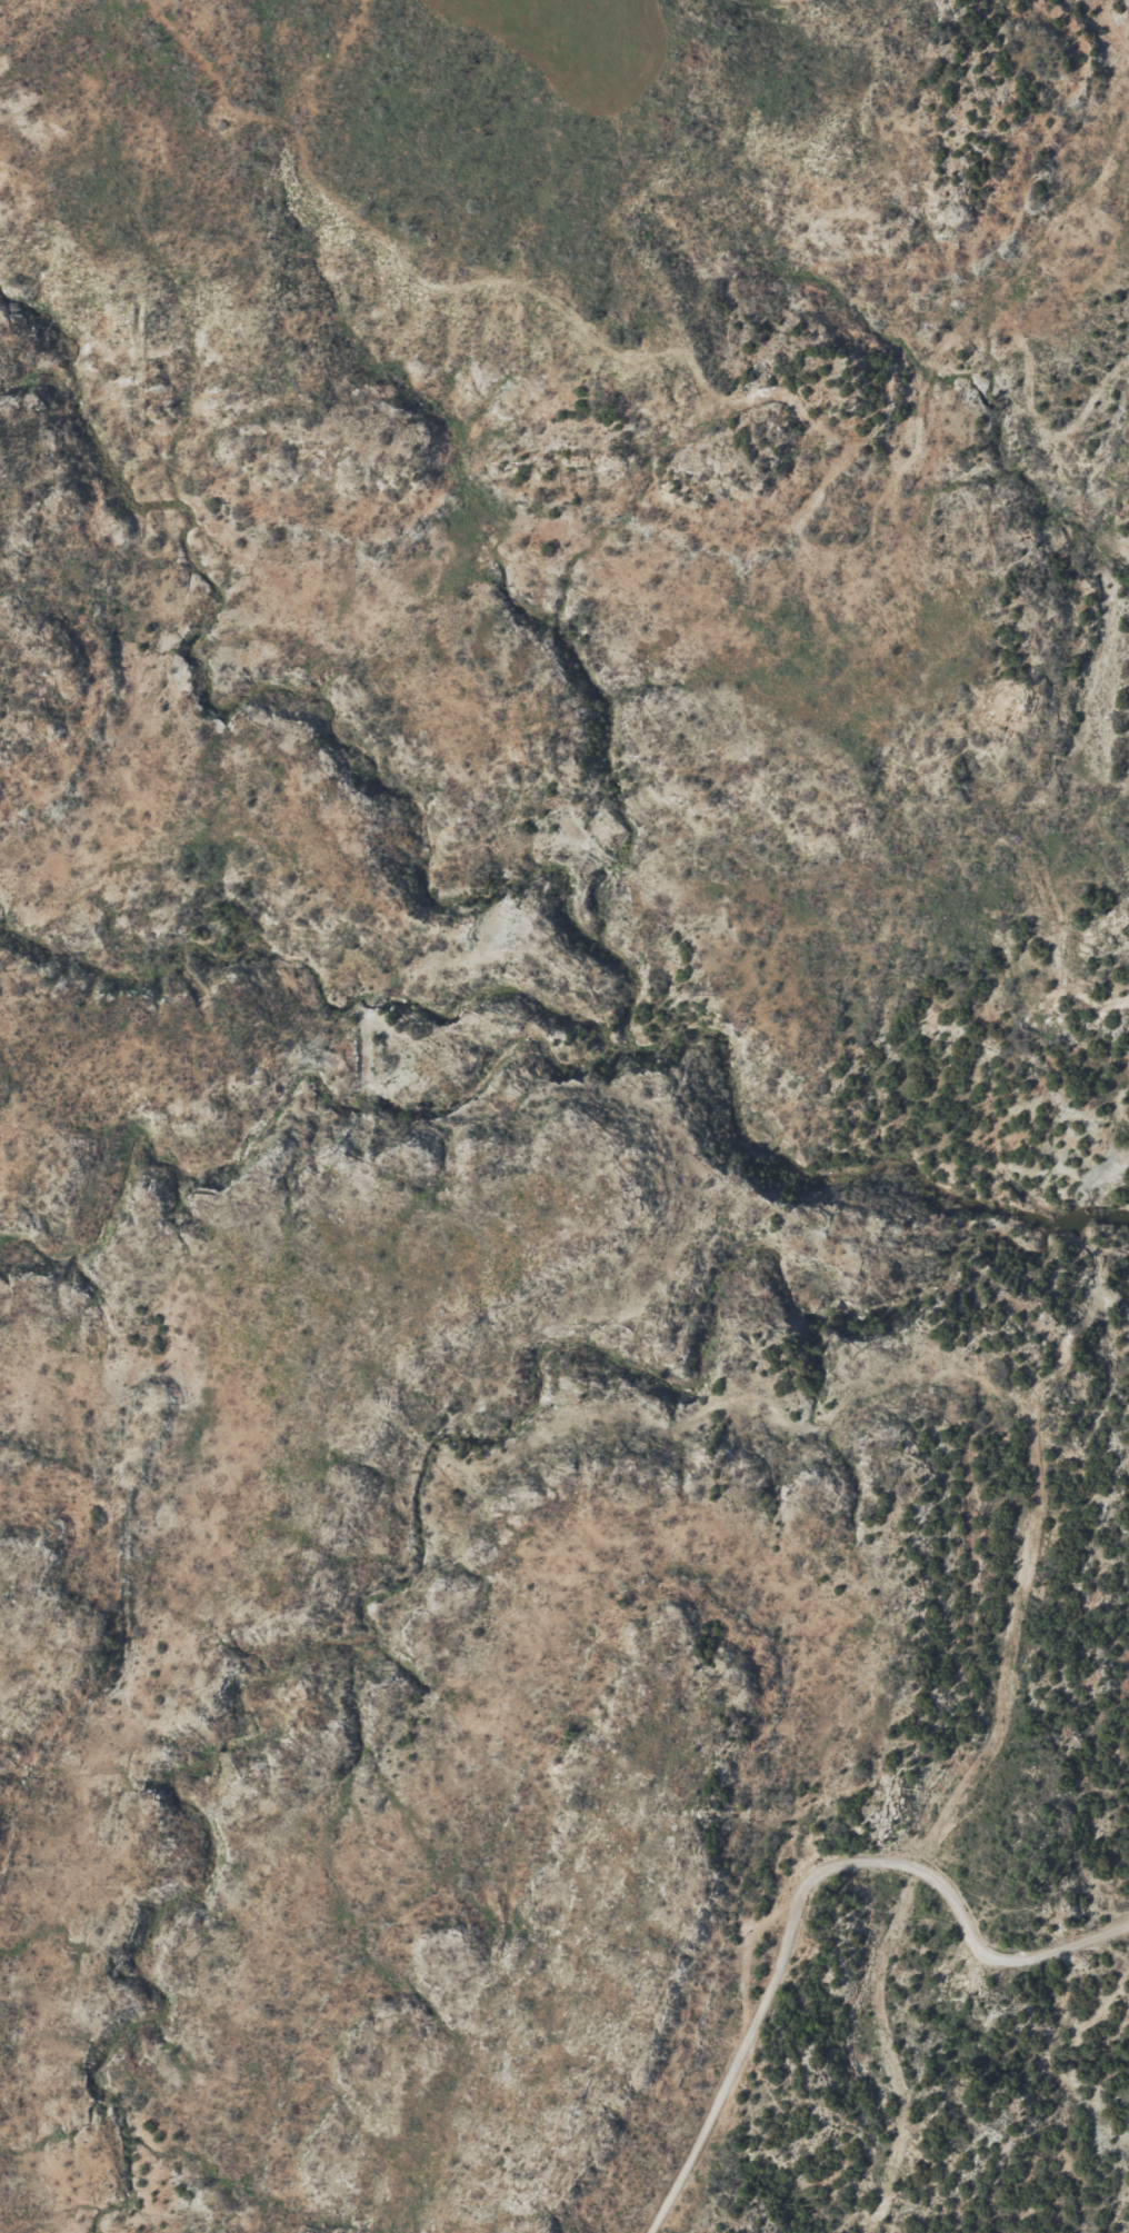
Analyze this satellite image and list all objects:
road: (773, 1886)

